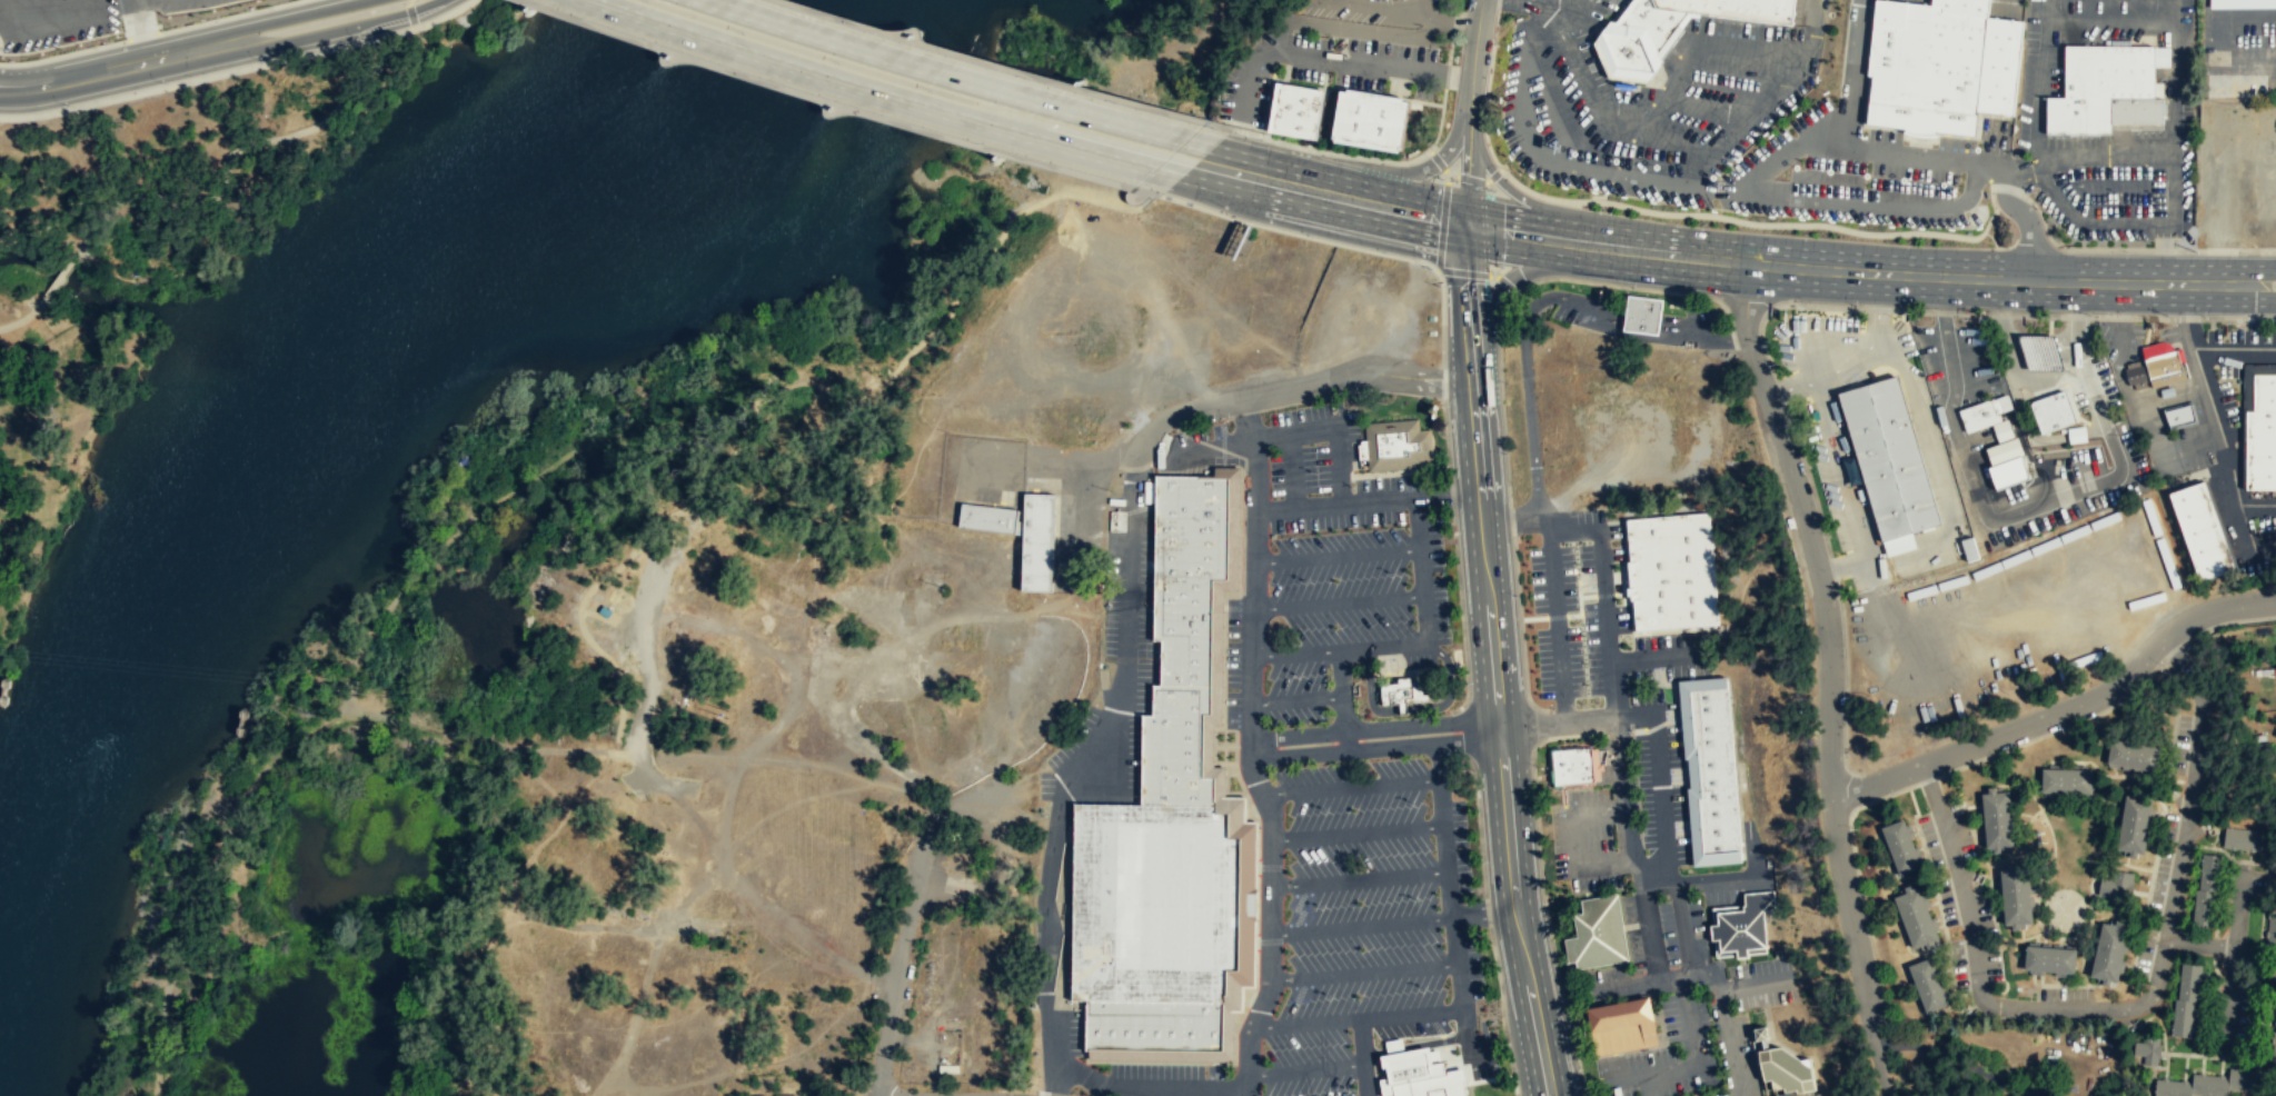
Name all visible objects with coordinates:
road: (1554, 0)
street lamp: (645, 1)
road: (1457, 3)
building: (2243, 4)
road: (1497, 6)
road: (2007, 6)
road: (1422, 11)
road: (2046, 11)
road: (299, 14)
road: (409, 14)
road: (229, 17)
street lamp: (578, 18)
street lamp: (205, 19)
road: (1454, 22)
road: (1815, 22)
road: (2123, 23)
road: (1689, 26)
road: (337, 28)
building: (1672, 28)
street lamp: (741, 32)
road: (2174, 33)
road: (143, 37)
street lamp: (1335, 37)
street lamp: (364, 39)
road: (1697, 40)
street lamp: (107, 41)
road: (2219, 42)
road: (1450, 49)
street lamp: (1440, 51)
road: (1674, 51)
road: (64, 53)
road: (887, 53)
street lamp: (12, 60)
road: (1604, 60)
street lamp: (266, 61)
street lamp: (837, 63)
building: (1942, 64)
road: (1004, 67)
road: (117, 68)
road: (238, 69)
road: (2175, 69)
road: (823, 73)
road: (1856, 73)
road: (1447, 76)
road: (1618, 76)
road: (1627, 77)
road: (1664, 81)
street lamp: (168, 83)
building: (2235, 84)
building: (2106, 87)
street lamp: (931, 91)
road: (2037, 94)
road: (837, 103)
road: (1731, 103)
street lamp: (71, 106)
building: (2208, 106)
road: (1470, 111)
building: (2246, 111)
building: (1296, 112)
road: (1440, 120)
building: (1373, 122)
road: (1827, 124)
road: (2175, 126)
road: (1907, 129)
road: (1485, 133)
road: (1666, 137)
road: (1123, 143)
street lamp: (977, 145)
road: (229, 153)
road: (1331, 153)
road: (1632, 155)
road: (2104, 155)
road: (1972, 161)
road: (2020, 168)
road: (1405, 175)
road: (1475, 181)
road: (1699, 185)
road: (1508, 189)
road: (1330, 193)
road: (1597, 196)
road: (2058, 197)
road: (1866, 200)
road: (2217, 206)
road: (1443, 208)
road: (2156, 218)
road: (2025, 222)
traffic signals: (1464, 223)
road: (1805, 225)
road: (2171, 225)
road: (1298, 235)
park: (145, 259)
road: (2170, 260)
road: (2237, 268)
road: (1831, 269)
road: (1478, 272)
road: (59, 277)
road: (1512, 278)
road: (1629, 288)
street lamp: (1634, 288)
road: (2237, 297)
street lamp: (1857, 306)
building: (1643, 315)
road: (26, 316)
road: (1874, 338)
road: (2235, 347)
building: (2043, 353)
street lamp: (1775, 362)
building: (2135, 375)
road: (774, 385)
road: (2041, 385)
road: (1795, 386)
road: (1298, 387)
road: (1829, 398)
road: (2214, 410)
building: (2054, 411)
building: (1985, 414)
building: (2179, 416)
road: (1248, 417)
road: (1299, 427)
building: (2002, 430)
road: (1960, 432)
building: (2260, 435)
building: (1395, 447)
road: (1217, 448)
river: (251, 456)
building: (1891, 459)
road: (1293, 468)
road: (1938, 469)
road: (2029, 470)
road: (1857, 488)
building: (2081, 490)
road: (1452, 491)
road: (1339, 502)
building: (987, 517)
building: (2200, 531)
street lamp: (1828, 536)
building: (1036, 541)
road: (1339, 555)
road: (1847, 566)
building: (1672, 570)
building: (1186, 571)
road: (1341, 601)
road: (1603, 615)
road: (1408, 642)
road: (1300, 650)
road: (1494, 660)
parking lot: (1117, 668)
road: (1831, 676)
power tower: (361, 685)
building: (1401, 691)
road: (1294, 700)
road: (2063, 710)
road: (1556, 715)
power tower: (733, 717)
parking lot: (1016, 717)
road: (1488, 726)
road: (1363, 729)
street lamp: (2064, 731)
building: (1174, 747)
road: (1368, 747)
road: (535, 750)
building: (2131, 754)
building: (1574, 768)
building: (1710, 771)
street lamp: (1951, 774)
building: (2065, 779)
road: (1617, 784)
parking lot: (1331, 786)
road: (1353, 786)
road: (1269, 803)
building: (1995, 818)
building: (2133, 823)
road: (724, 824)
street lamp: (1855, 828)
road: (1360, 830)
building: (2243, 841)
building: (1901, 847)
road: (1361, 877)
building: (2115, 889)
road: (695, 890)
building: (2207, 891)
building: (2014, 895)
building: (1153, 903)
road: (1484, 915)
building: (1917, 918)
road: (904, 924)
road: (1363, 925)
building: (1742, 926)
building: (2270, 929)
building: (1597, 935)
road: (2199, 943)
road: (1455, 945)
building: (2107, 951)
building: (2048, 958)
road: (2233, 958)
road: (1365, 970)
building: (1929, 985)
building: (2186, 1000)
road: (2133, 1006)
road: (1359, 1018)
building: (1152, 1026)
building: (1621, 1027)
building: (2275, 1028)
road: (1727, 1036)
building: (2148, 1053)
road: (1306, 1065)
building: (1785, 1068)
road: (1365, 1076)
road: (1123, 1080)
building: (2212, 1085)
building: (1432, 1086)
building: (763, 1095)
building: (786, 1095)
building: (816, 1095)

